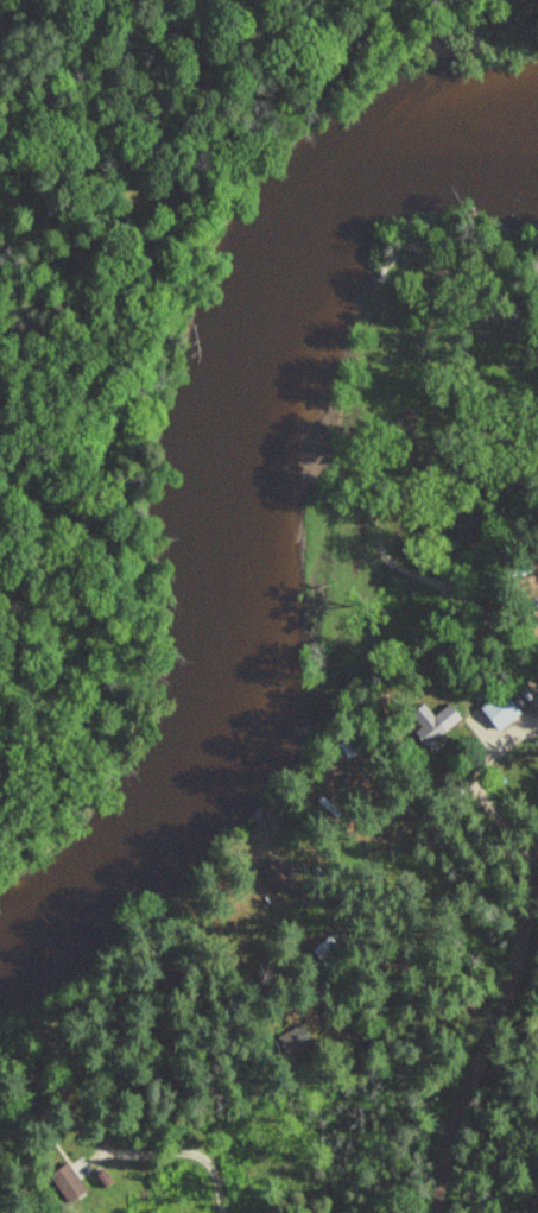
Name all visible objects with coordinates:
river: (240, 512)
building: (496, 710)
road: (470, 1066)

